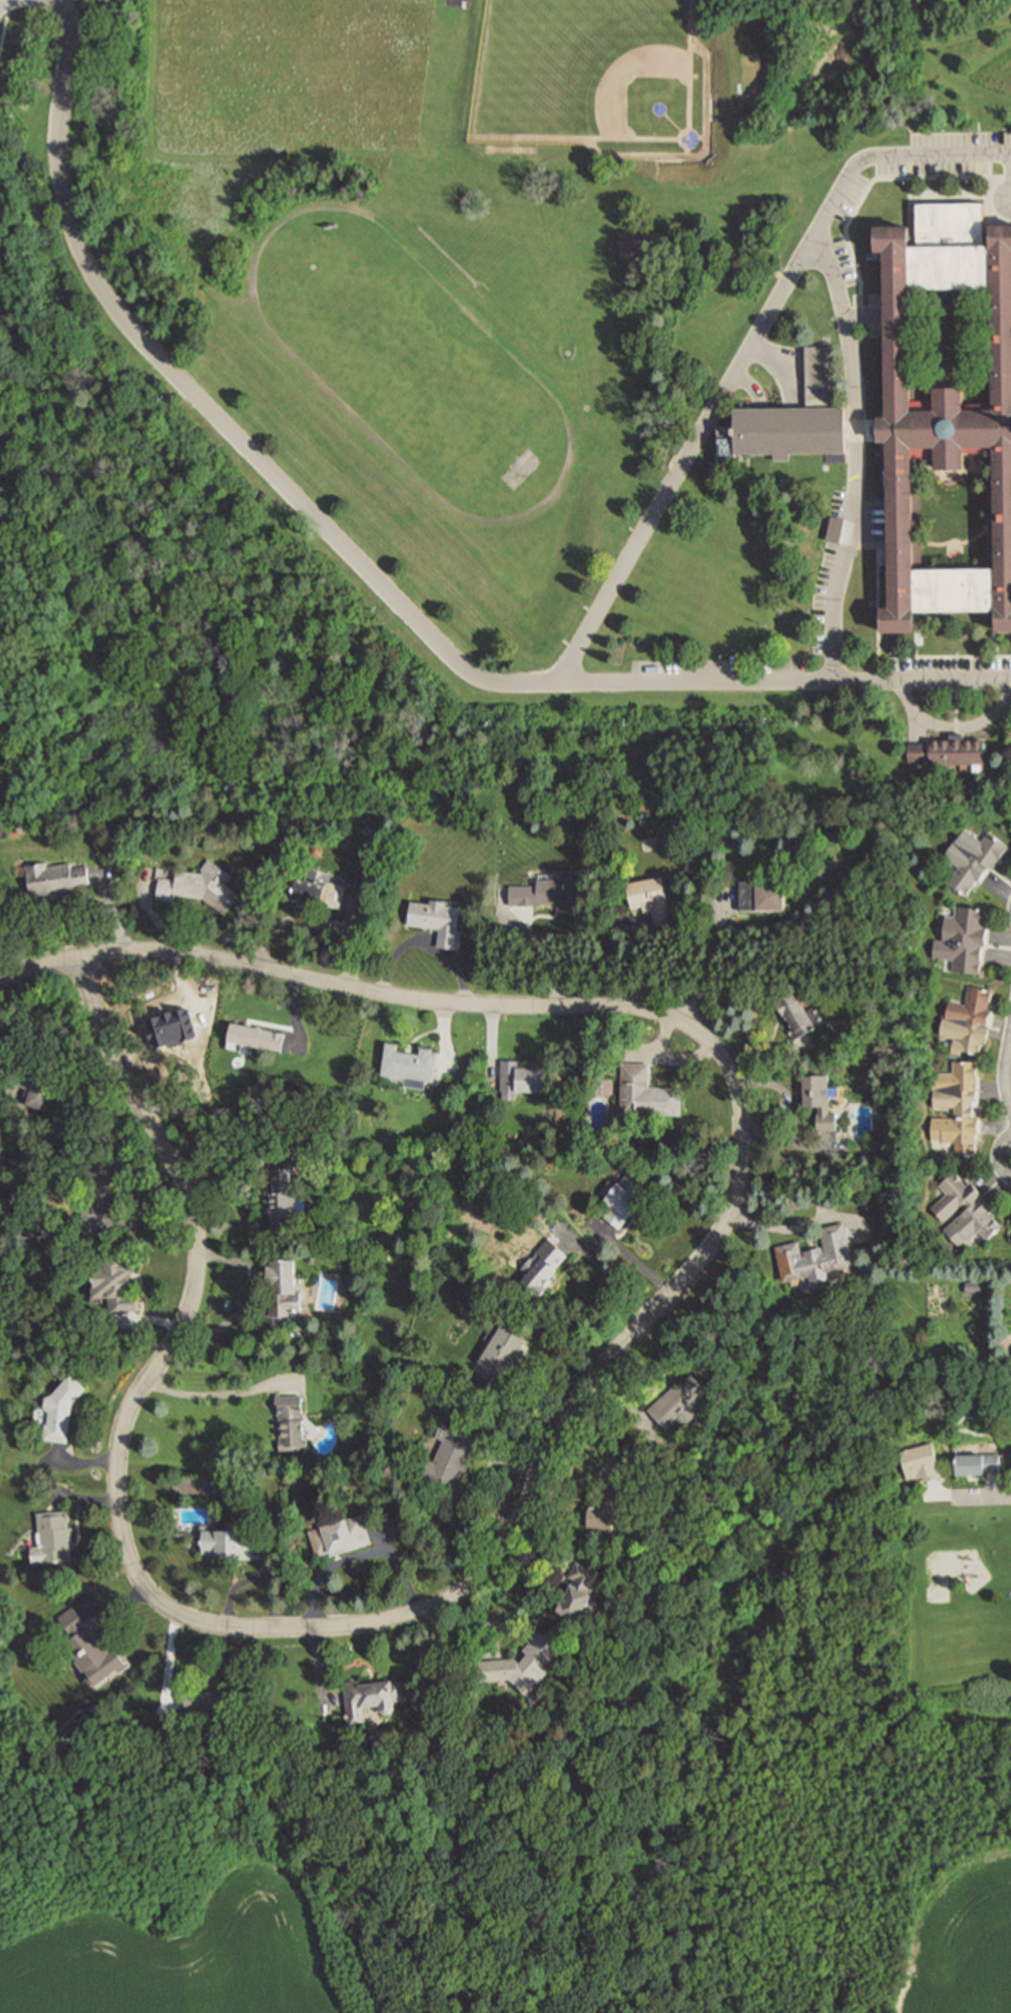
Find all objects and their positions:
park: (591, 81)
parking lot: (843, 201)
building: (638, 246)
road: (781, 363)
park: (408, 364)
track: (410, 365)
building: (945, 408)
building: (792, 422)
road: (856, 454)
parking lot: (836, 574)
road: (473, 672)
parking lot: (719, 674)
parking lot: (951, 674)
road: (786, 680)
road: (953, 725)
building: (953, 750)
building: (916, 751)
building: (977, 856)
building: (53, 876)
building: (364, 882)
building: (200, 885)
building: (319, 890)
building: (554, 892)
building: (761, 894)
building: (651, 897)
building: (440, 919)
building: (966, 939)
road: (712, 959)
road: (38, 969)
building: (799, 1013)
building: (973, 1018)
building: (254, 1034)
building: (410, 1064)
road: (1007, 1074)
building: (521, 1077)
building: (36, 1082)
building: (647, 1091)
building: (820, 1099)
building: (952, 1110)
road: (1000, 1156)
building: (628, 1194)
building: (98, 1196)
building: (284, 1198)
building: (938, 1213)
road: (786, 1227)
building: (817, 1254)
road: (635, 1259)
building: (543, 1266)
road: (608, 1274)
building: (116, 1282)
building: (284, 1285)
building: (974, 1286)
building: (502, 1346)
road: (215, 1396)
building: (678, 1401)
building: (61, 1407)
building: (290, 1421)
building: (451, 1454)
building: (919, 1465)
building: (974, 1466)
road: (543, 1477)
road: (984, 1496)
building: (607, 1506)
building: (340, 1534)
building: (52, 1535)
park: (786, 1538)
building: (230, 1540)
building: (580, 1589)
park: (953, 1619)
building: (87, 1647)
building: (523, 1664)
building: (208, 1695)
building: (371, 1696)
crop: (956, 1938)
crop: (197, 1954)

